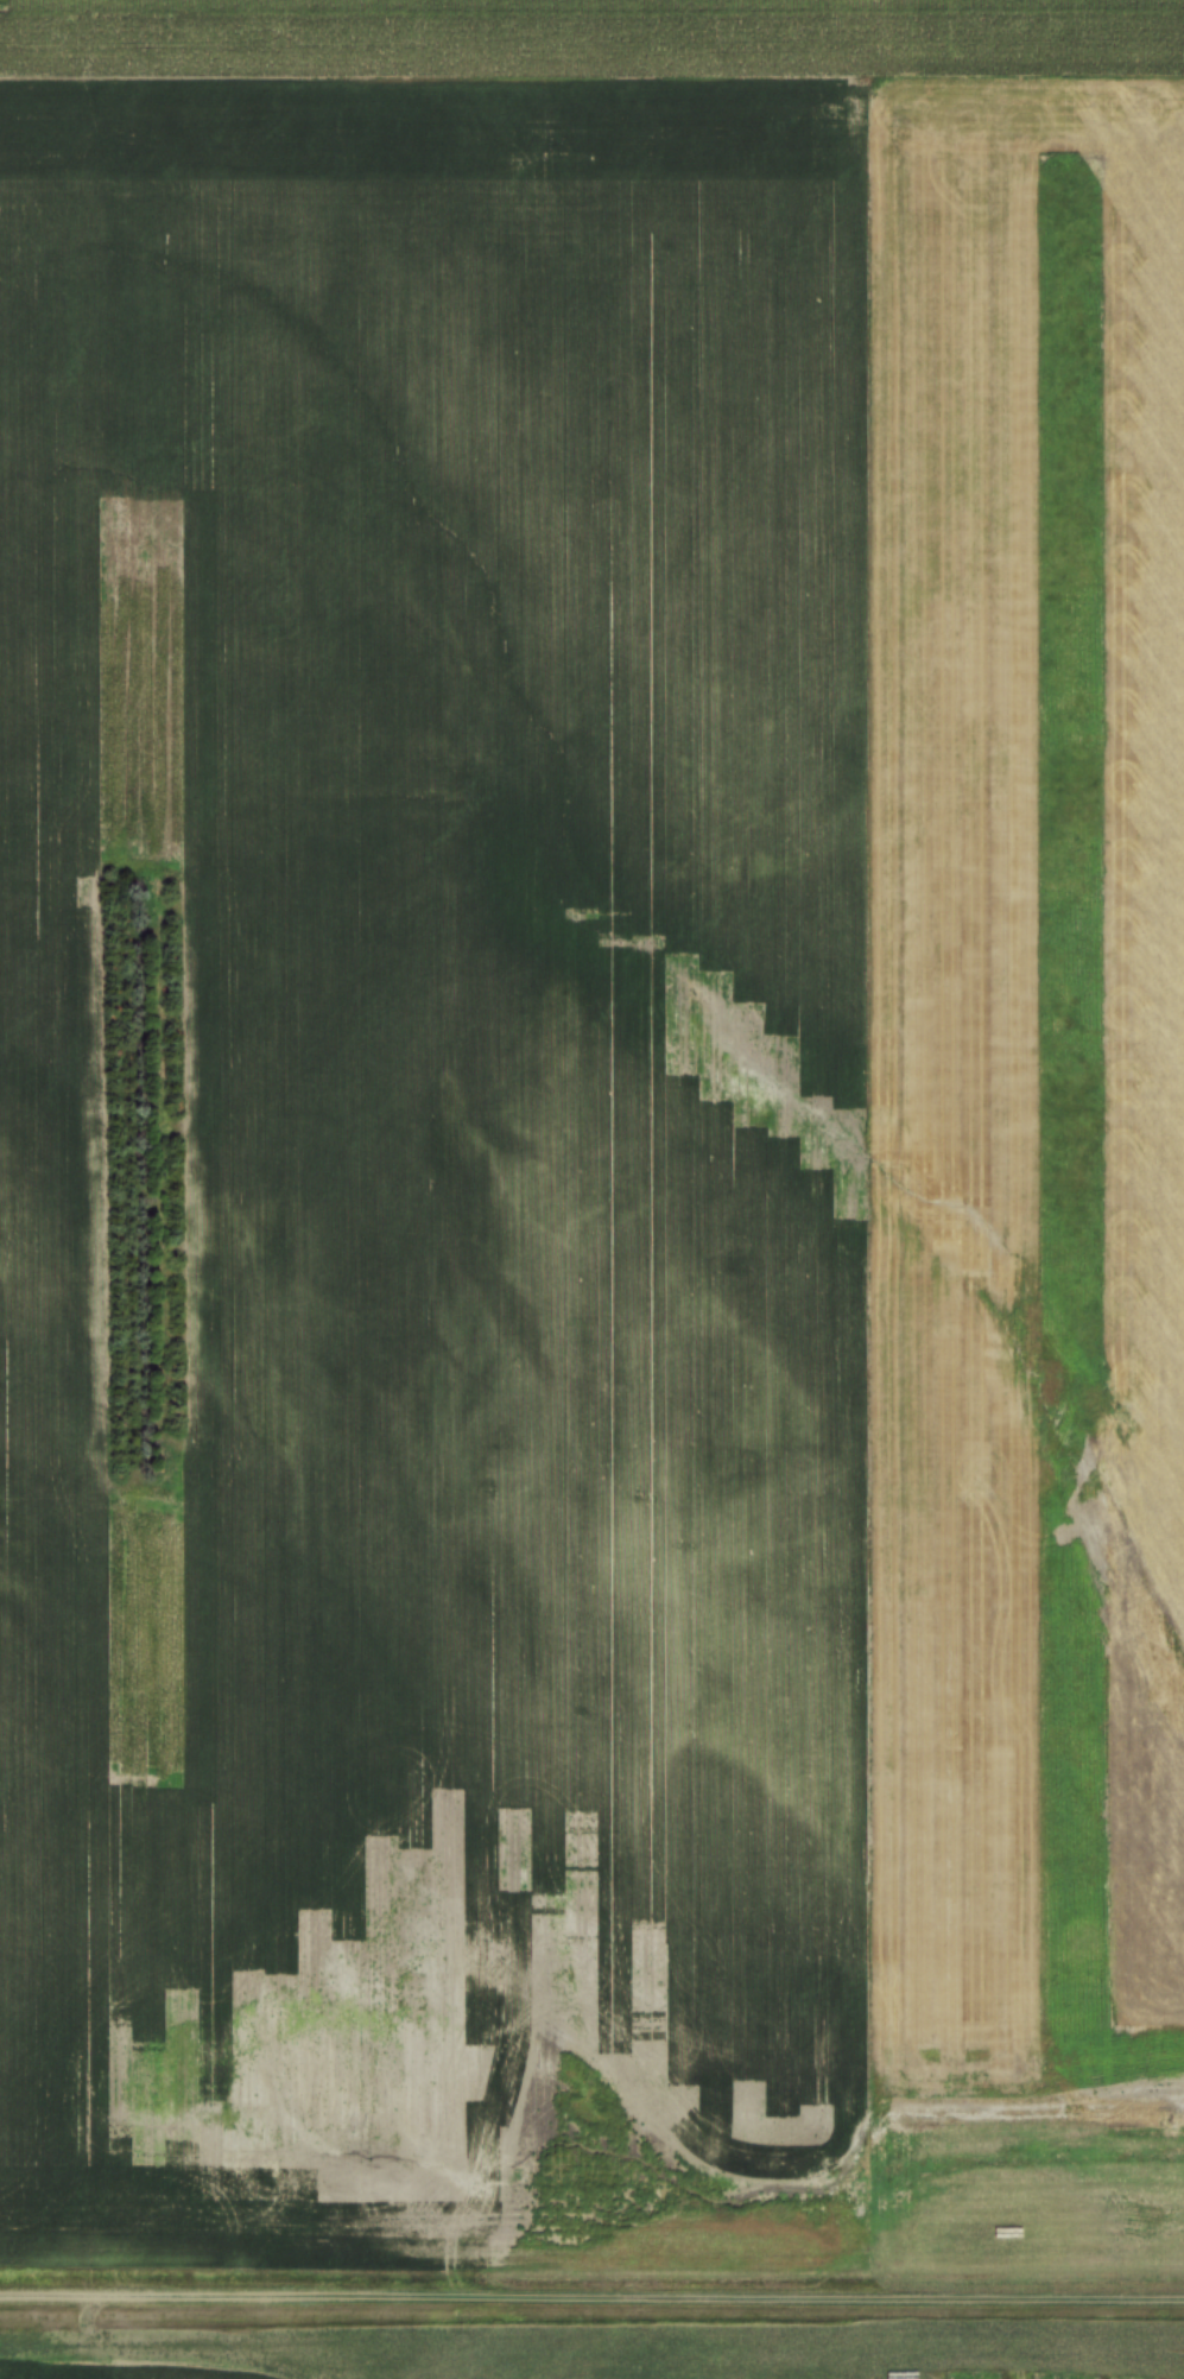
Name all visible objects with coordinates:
road: (591, 2296)

